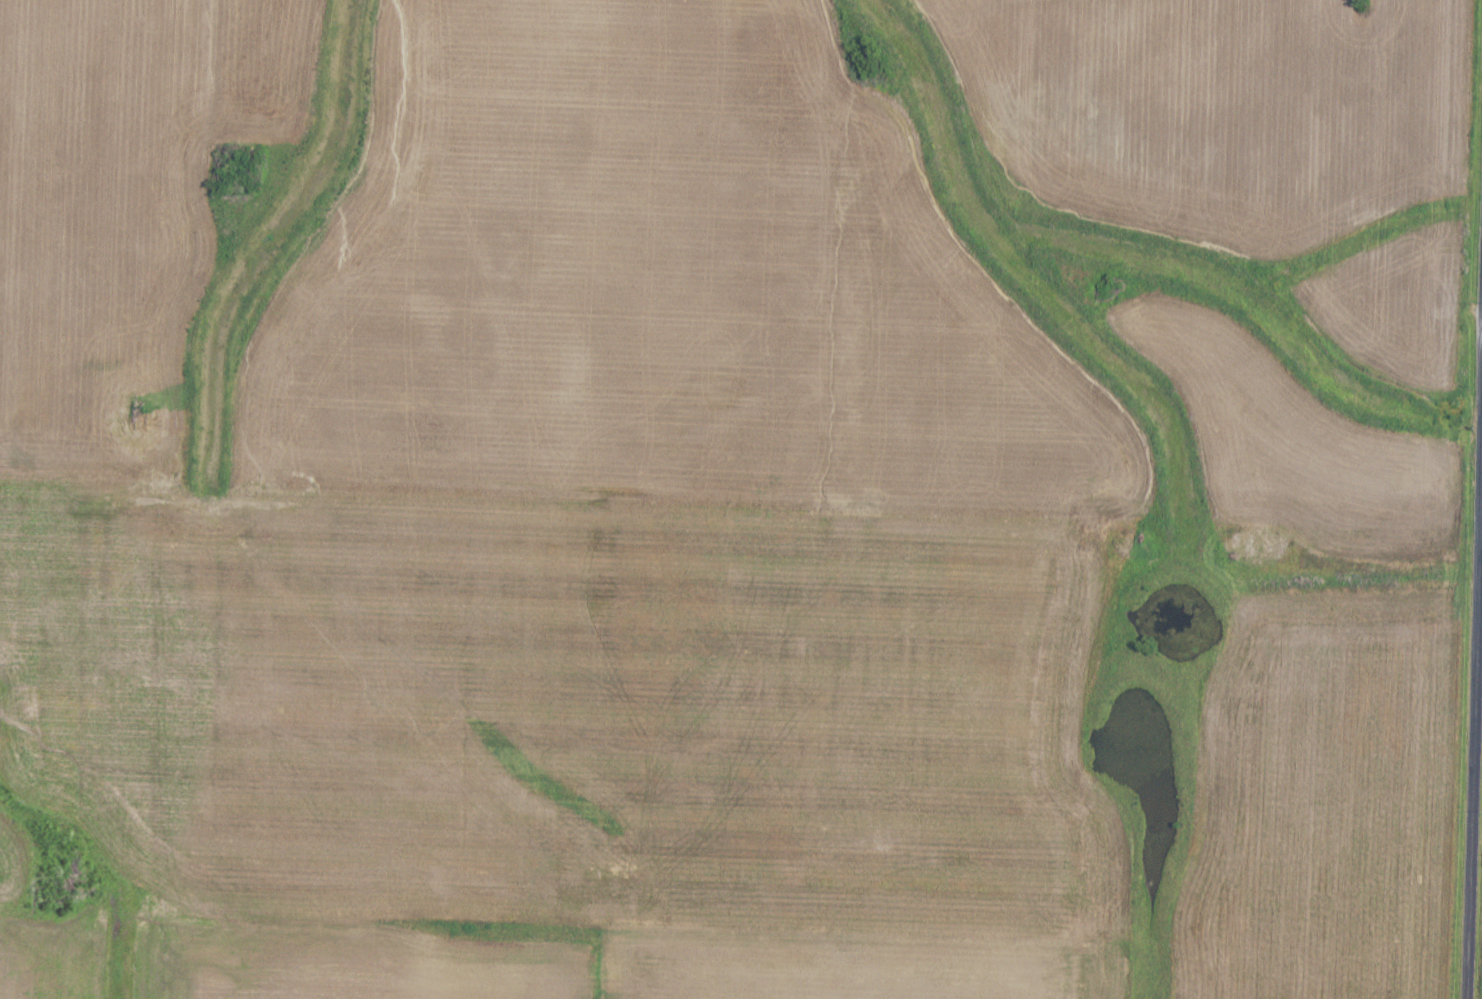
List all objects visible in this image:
road: (1473, 754)

